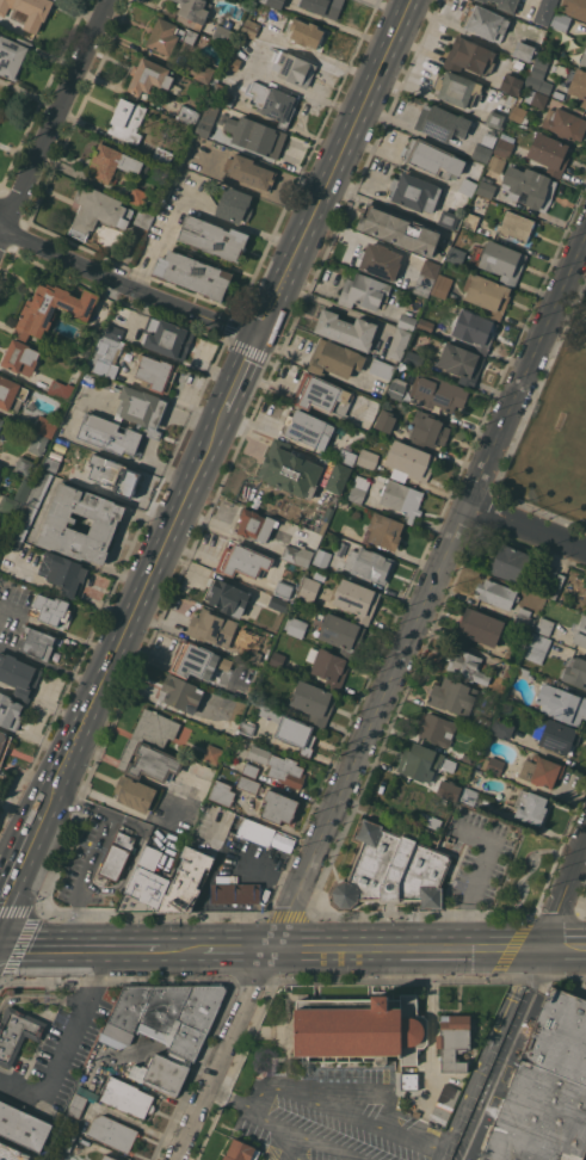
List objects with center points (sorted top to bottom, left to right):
building: (483, 0)
building: (273, 2)
building: (507, 5)
building: (323, 6)
building: (574, 7)
building: (30, 11)
building: (544, 11)
building: (192, 12)
building: (560, 20)
building: (486, 21)
building: (249, 27)
building: (306, 32)
building: (223, 33)
building: (168, 36)
building: (524, 50)
building: (12, 55)
building: (468, 56)
building: (584, 58)
building: (234, 63)
building: (292, 67)
building: (203, 70)
building: (537, 72)
building: (149, 76)
building: (573, 82)
building: (510, 84)
building: (545, 86)
building: (457, 88)
building: (229, 97)
building: (536, 98)
building: (510, 99)
building: (272, 101)
road: (57, 109)
building: (187, 113)
building: (519, 115)
building: (495, 119)
building: (128, 121)
building: (442, 123)
building: (566, 124)
building: (206, 127)
building: (254, 136)
building: (483, 147)
building: (504, 148)
building: (549, 153)
building: (162, 155)
building: (432, 159)
building: (113, 162)
building: (496, 163)
road: (331, 167)
building: (249, 172)
building: (468, 184)
building: (529, 187)
building: (485, 189)
building: (414, 192)
building: (137, 195)
building: (234, 204)
building: (98, 211)
building: (143, 217)
building: (448, 218)
building: (470, 221)
road: (4, 227)
building: (514, 227)
road: (21, 228)
building: (399, 229)
building: (212, 237)
road: (585, 242)
road: (21, 245)
building: (456, 255)
building: (380, 260)
building: (501, 261)
building: (192, 273)
building: (425, 277)
building: (442, 285)
road: (149, 290)
building: (363, 291)
building: (487, 294)
building: (51, 309)
building: (585, 315)
building: (407, 322)
building: (425, 325)
building: (346, 329)
building: (475, 329)
building: (113, 332)
traffic signals: (254, 335)
building: (167, 338)
building: (399, 344)
building: (105, 356)
building: (20, 357)
building: (334, 358)
building: (414, 358)
building: (390, 360)
building: (461, 363)
building: (382, 369)
building: (155, 372)
road: (236, 374)
building: (396, 388)
building: (61, 389)
building: (10, 391)
building: (438, 391)
building: (322, 394)
building: (144, 419)
building: (1, 420)
building: (385, 420)
building: (45, 425)
building: (308, 428)
building: (427, 430)
building: (38, 443)
building: (344, 456)
building: (368, 458)
building: (409, 462)
building: (23, 464)
building: (50, 464)
building: (290, 469)
building: (107, 474)
building: (338, 477)
building: (382, 477)
building: (358, 488)
building: (23, 490)
building: (401, 498)
building: (343, 502)
building: (8, 505)
building: (29, 510)
building: (322, 518)
building: (104, 524)
building: (255, 524)
road: (526, 526)
building: (384, 530)
building: (1, 545)
building: (297, 555)
building: (322, 559)
building: (243, 561)
building: (369, 564)
building: (522, 567)
building: (63, 573)
building: (556, 586)
building: (308, 588)
building: (283, 590)
road: (428, 593)
building: (495, 593)
building: (227, 597)
building: (356, 599)
building: (279, 604)
building: (53, 609)
road: (130, 609)
building: (523, 613)
building: (544, 625)
building: (295, 627)
building: (211, 628)
building: (479, 628)
building: (580, 631)
building: (341, 634)
building: (38, 643)
building: (537, 648)
building: (254, 654)
building: (513, 654)
building: (277, 659)
building: (197, 661)
building: (464, 665)
building: (328, 668)
building: (522, 671)
building: (507, 672)
building: (574, 672)
building: (19, 675)
building: (179, 693)
building: (452, 696)
building: (314, 702)
building: (561, 703)
building: (10, 711)
building: (482, 723)
building: (230, 726)
building: (246, 728)
building: (501, 728)
building: (290, 729)
building: (437, 729)
building: (559, 736)
building: (4, 745)
building: (150, 747)
building: (212, 753)
building: (465, 758)
building: (424, 763)
building: (493, 765)
building: (279, 766)
building: (249, 770)
building: (541, 770)
building: (248, 784)
building: (449, 789)
building: (134, 792)
building: (222, 792)
building: (475, 798)
road: (79, 804)
building: (530, 806)
building: (278, 807)
building: (0, 808)
building: (0, 809)
building: (428, 820)
building: (251, 829)
road: (27, 833)
building: (117, 856)
building: (393, 868)
road: (4, 875)
road: (7, 877)
road: (477, 877)
road: (82, 881)
building: (186, 881)
building: (144, 886)
building: (234, 891)
road: (566, 897)
road: (78, 948)
road: (179, 949)
road: (238, 949)
road: (430, 949)
building: (169, 1013)
building: (360, 1028)
building: (17, 1032)
building: (116, 1035)
building: (454, 1042)
road: (64, 1044)
road: (226, 1054)
road: (485, 1054)
road: (512, 1054)
building: (161, 1074)
building: (408, 1081)
building: (547, 1088)
building: (88, 1093)
building: (128, 1097)
building: (445, 1100)
building: (76, 1105)
road: (341, 1112)
road: (288, 1125)
building: (23, 1127)
road: (276, 1131)
building: (112, 1133)
building: (62, 1144)
building: (240, 1150)
building: (12, 1153)
building: (107, 1158)

